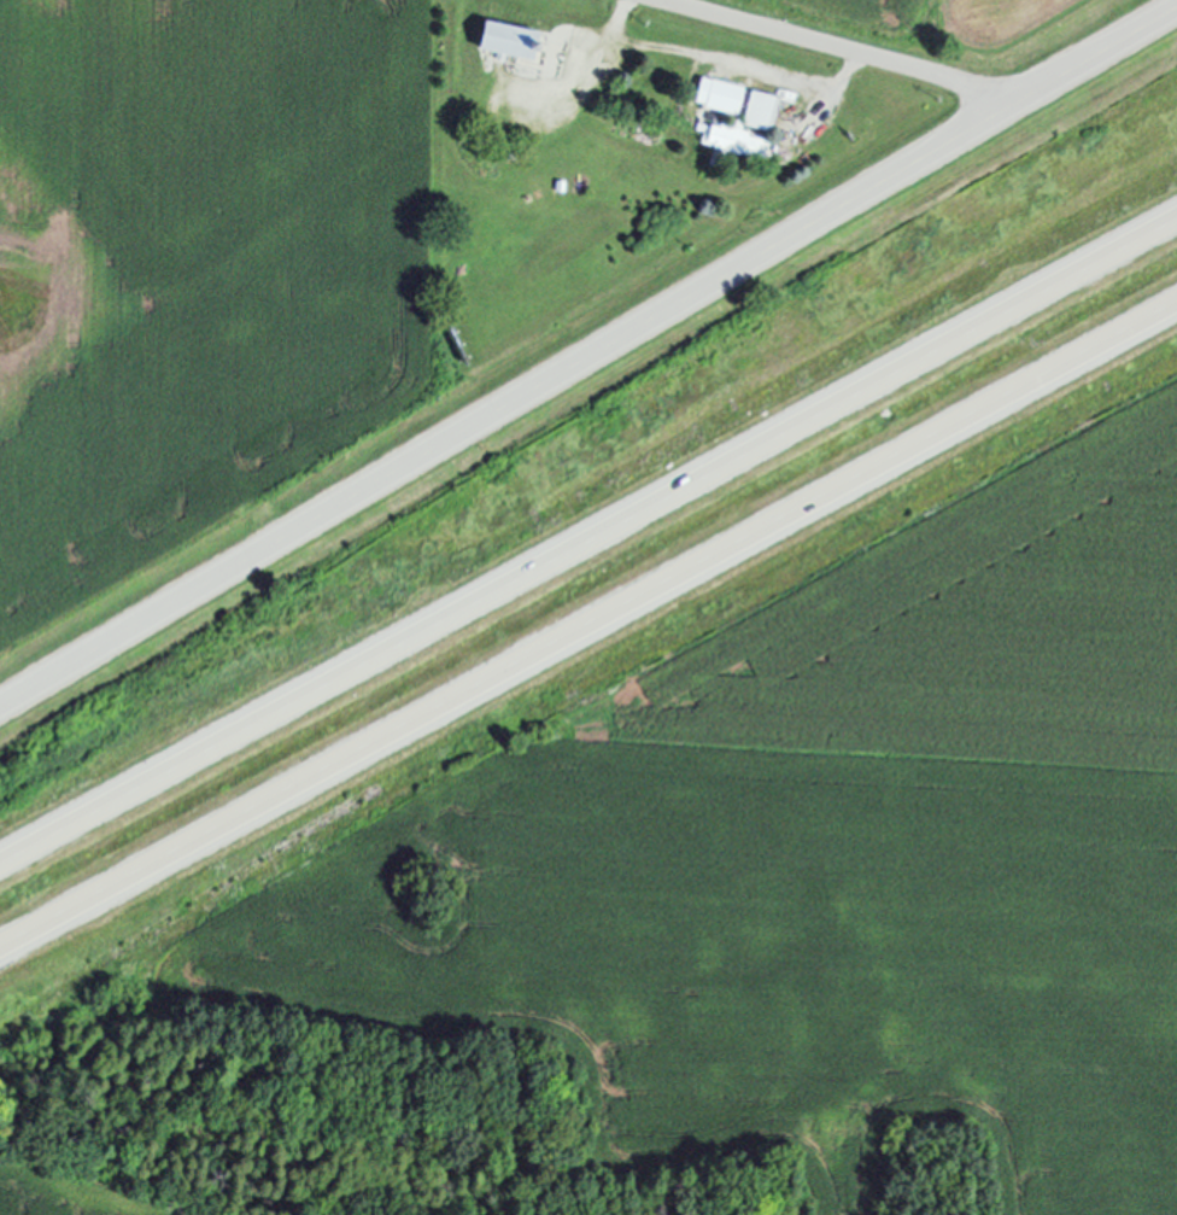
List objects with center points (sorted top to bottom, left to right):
building: (514, 40)
road: (837, 47)
road: (602, 51)
road: (749, 65)
building: (760, 121)
road: (587, 360)
road: (588, 543)
road: (588, 630)

